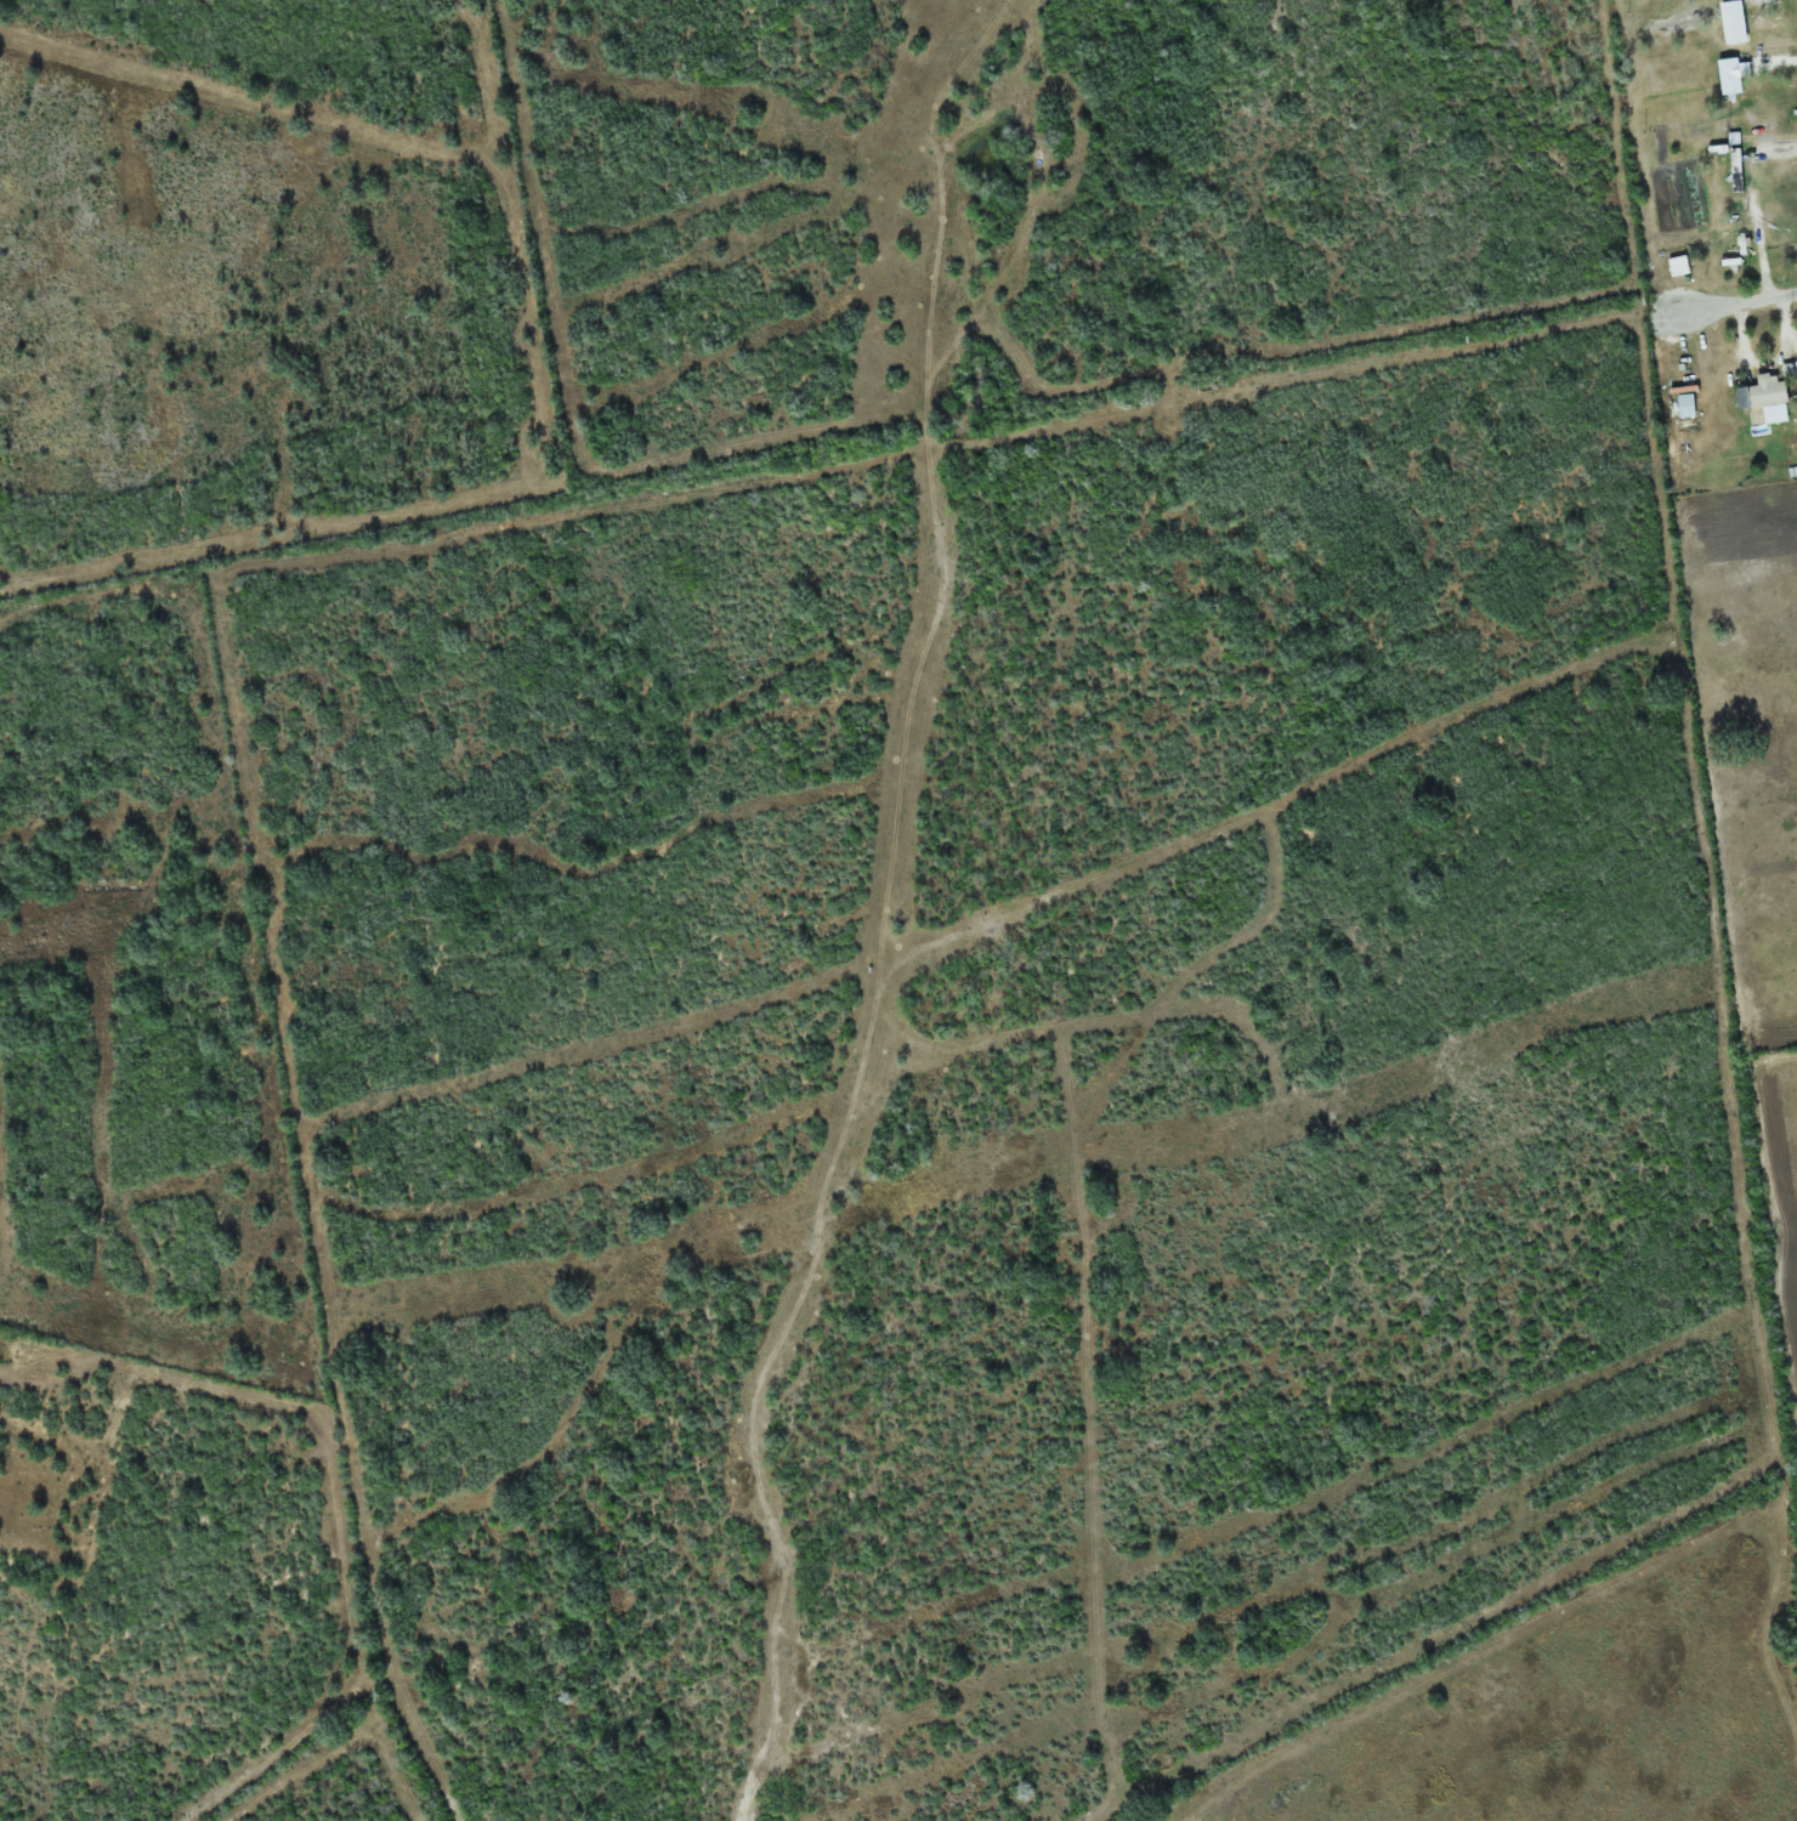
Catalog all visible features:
building: (1730, 76)
building: (1736, 169)
road: (1769, 295)
building: (1764, 393)
building: (1687, 410)

